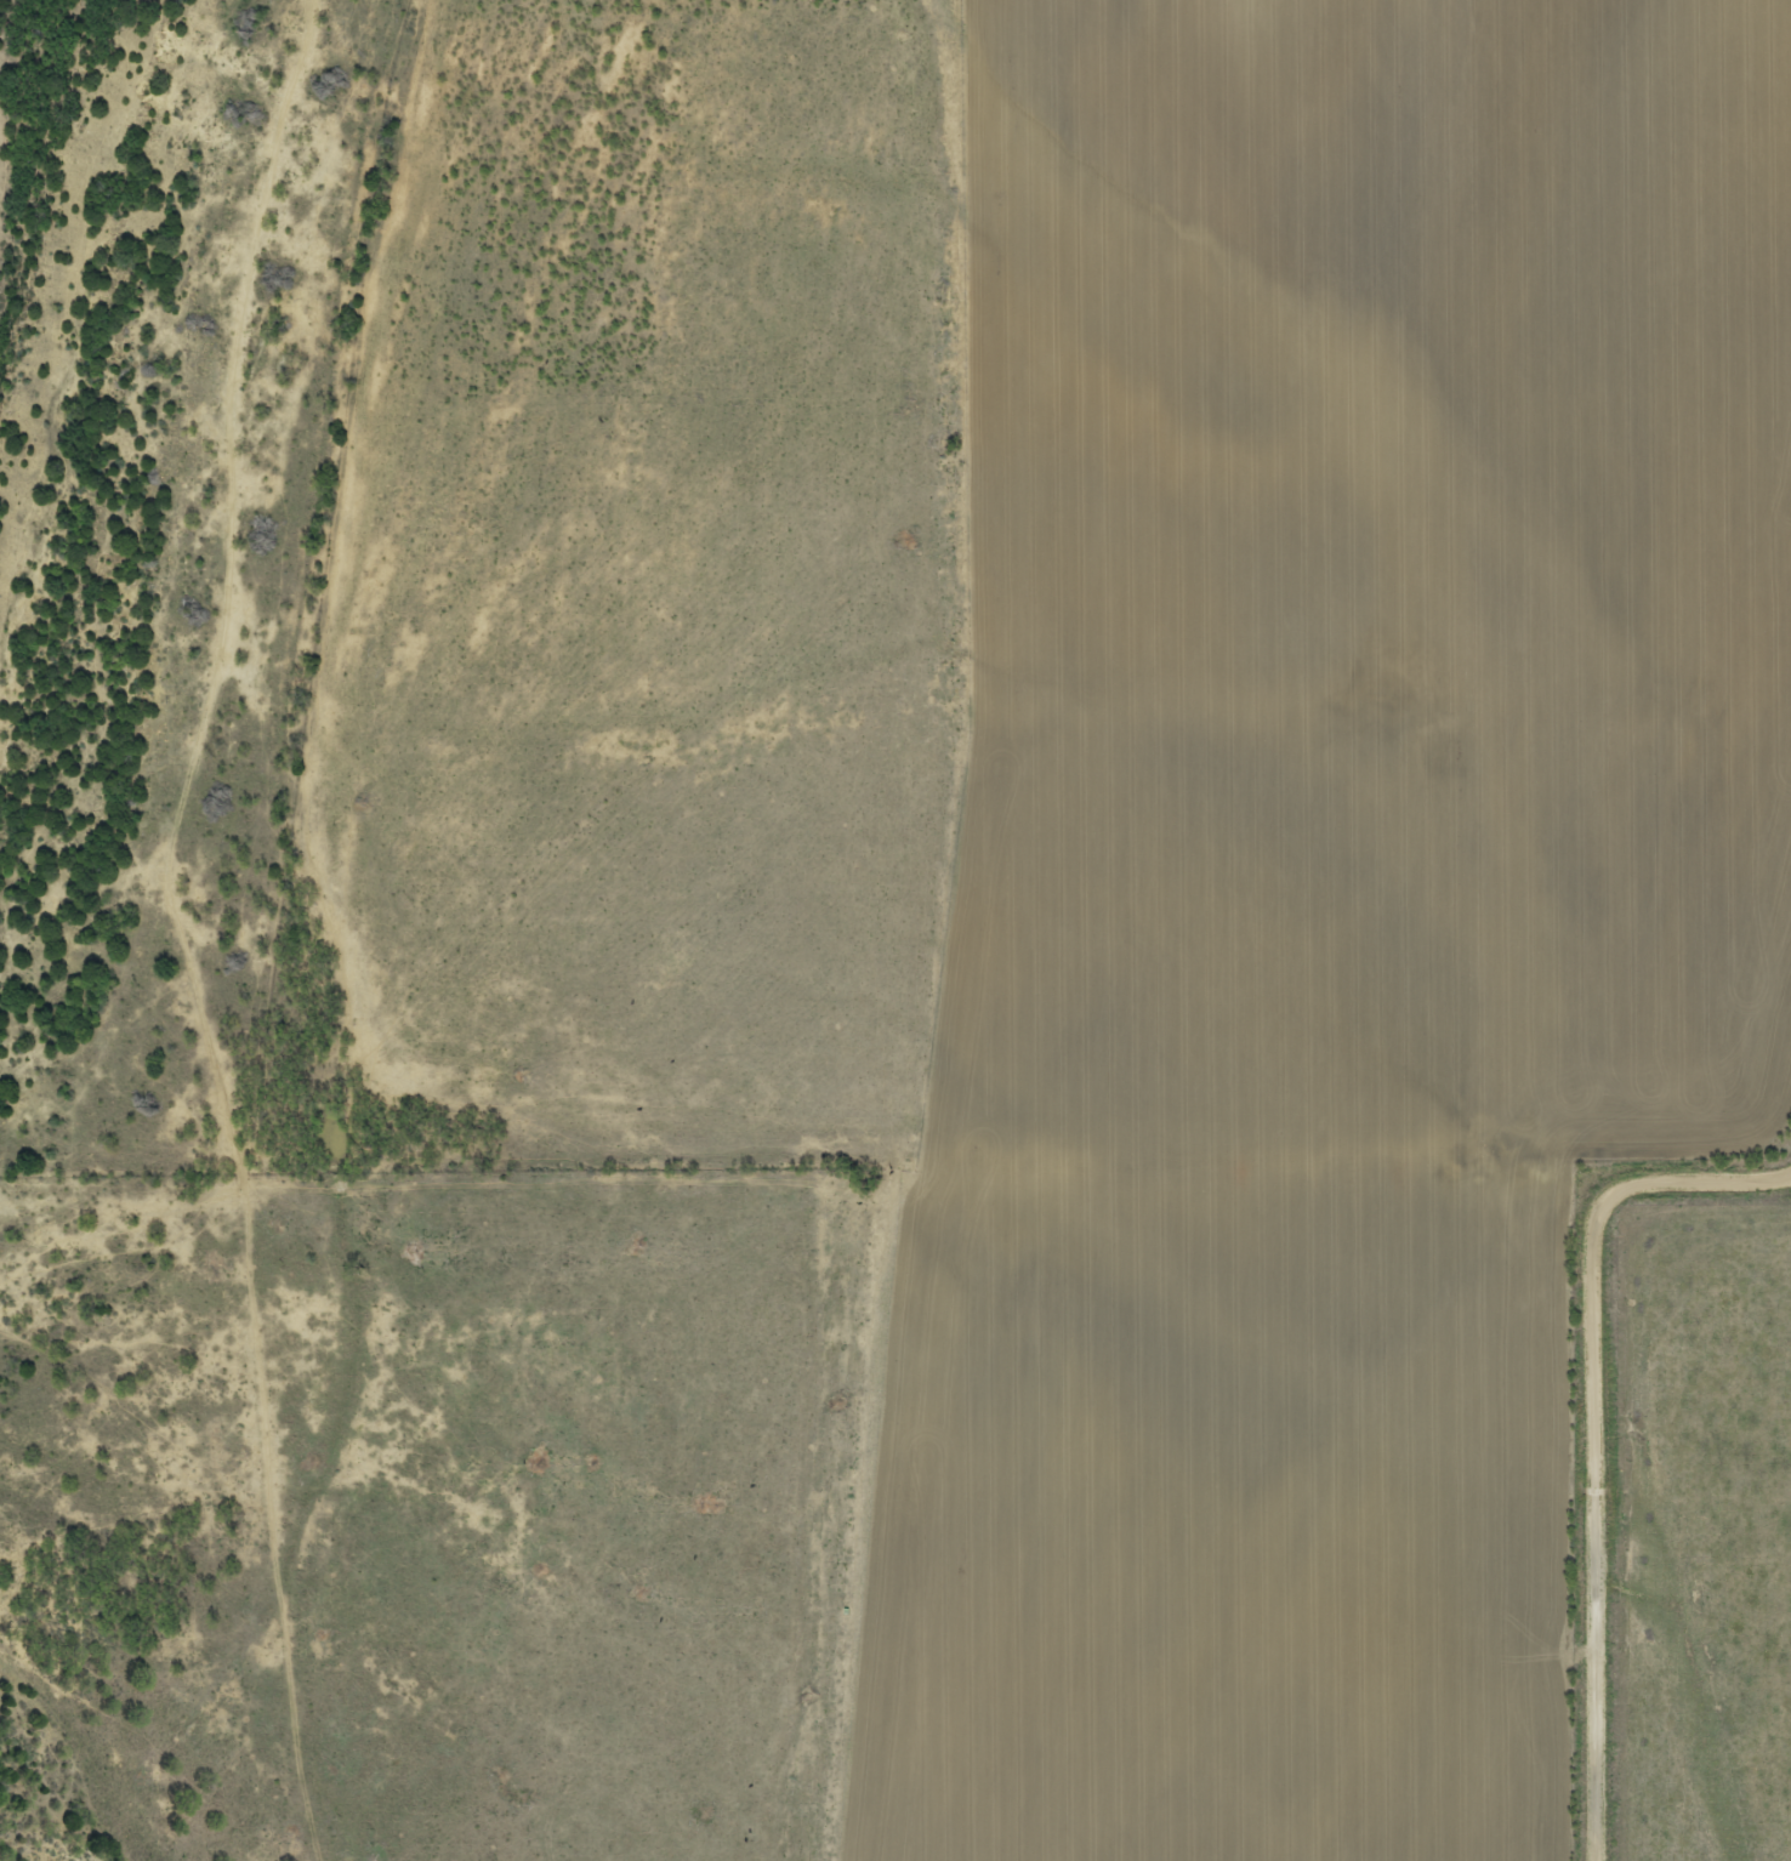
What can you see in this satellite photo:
road: (1568, 1453)

